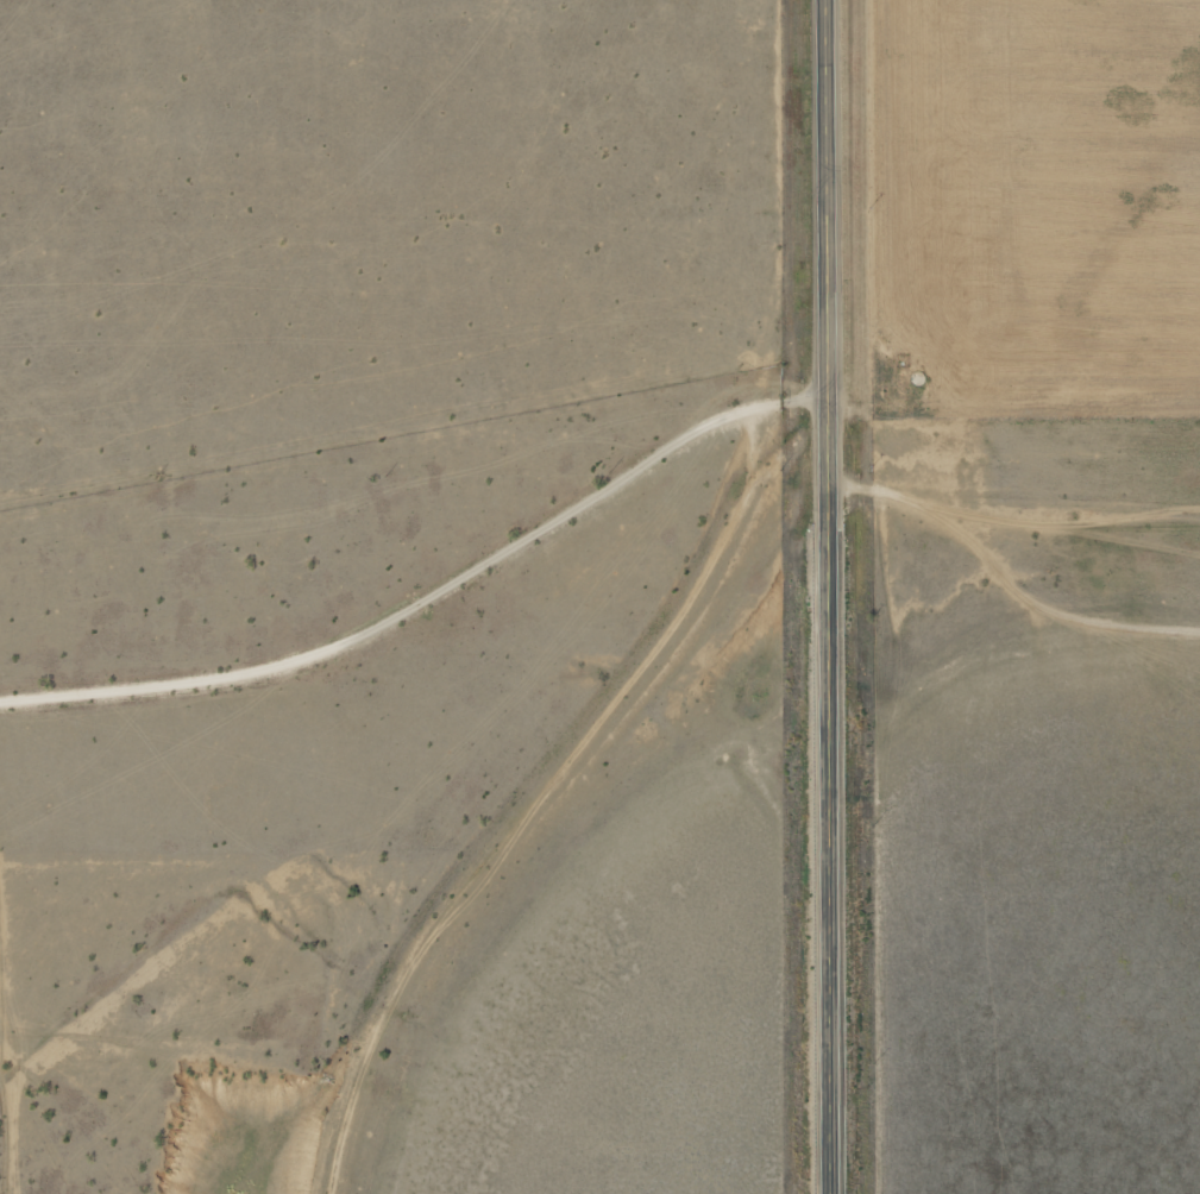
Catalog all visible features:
road: (1011, 520)
road: (824, 596)
road: (434, 658)
road: (576, 819)

